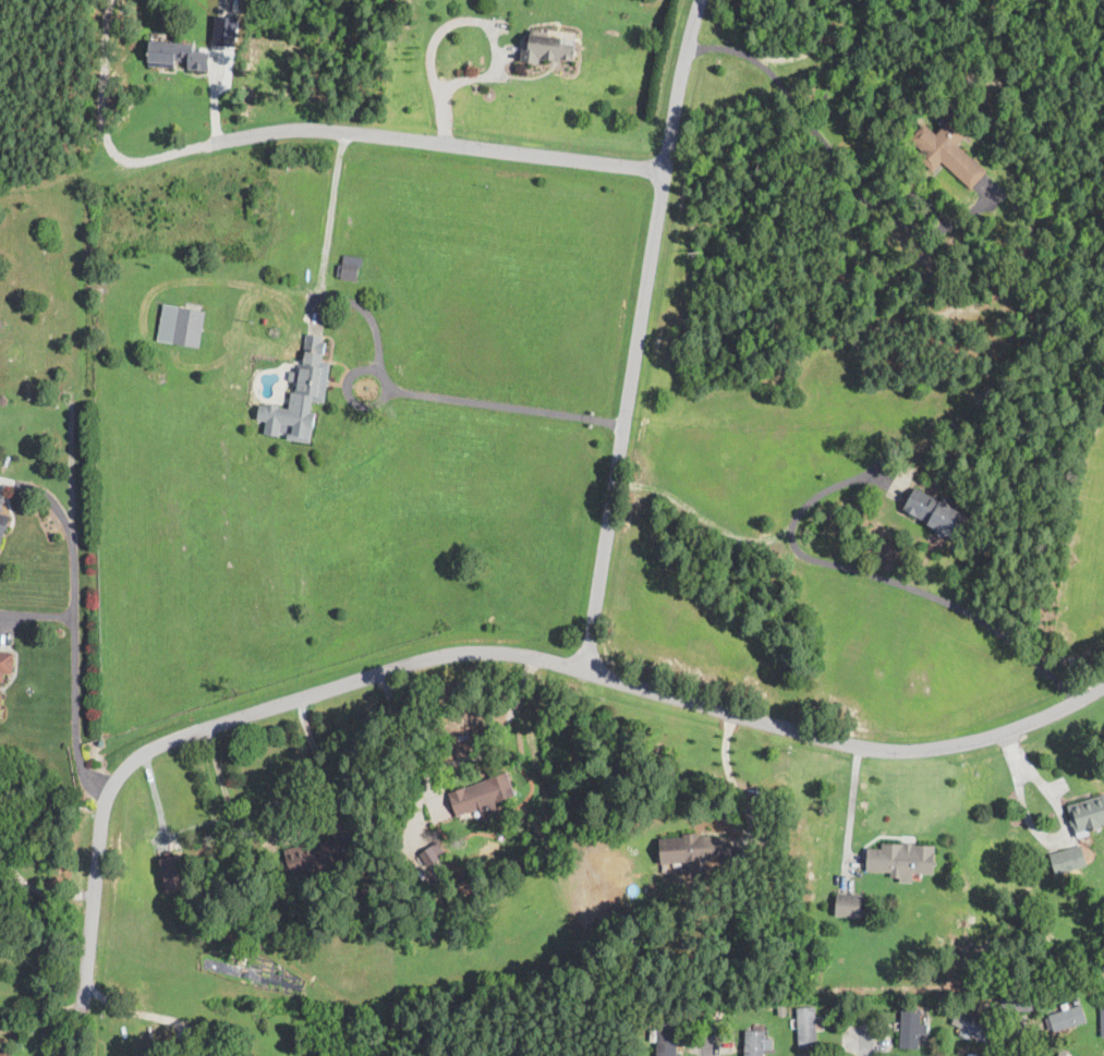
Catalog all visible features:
road: (227, 2)
building: (204, 5)
road: (464, 20)
building: (225, 29)
building: (546, 49)
building: (178, 56)
road: (677, 82)
road: (105, 128)
road: (438, 139)
road: (834, 153)
building: (946, 153)
building: (349, 265)
road: (322, 268)
building: (193, 298)
building: (181, 324)
road: (365, 366)
building: (300, 392)
road: (506, 406)
road: (626, 418)
building: (963, 421)
building: (1, 501)
building: (935, 511)
building: (3, 524)
road: (874, 574)
road: (74, 620)
building: (5, 661)
building: (0, 699)
road: (232, 718)
road: (848, 743)
road: (457, 763)
road: (731, 779)
building: (481, 794)
road: (852, 803)
building: (1088, 814)
road: (1065, 823)
road: (296, 825)
building: (694, 849)
building: (433, 852)
building: (310, 859)
building: (901, 859)
building: (1068, 860)
building: (172, 873)
road: (35, 887)
building: (846, 906)
building: (1088, 961)
building: (1099, 964)
building: (994, 1002)
building: (1016, 1003)
building: (1077, 1003)
building: (766, 1006)
building: (939, 1007)
road: (40, 1008)
building: (781, 1008)
road: (144, 1011)
building: (643, 1015)
building: (651, 1015)
building: (1067, 1019)
building: (1102, 1020)
building: (2, 1022)
building: (971, 1023)
building: (806, 1028)
building: (911, 1029)
building: (667, 1035)
building: (757, 1036)
road: (869, 1041)
road: (1020, 1043)
road: (712, 1048)
building: (935, 1051)
building: (961, 1052)
building: (1063, 1052)
building: (209, 1054)
building: (971, 1055)

